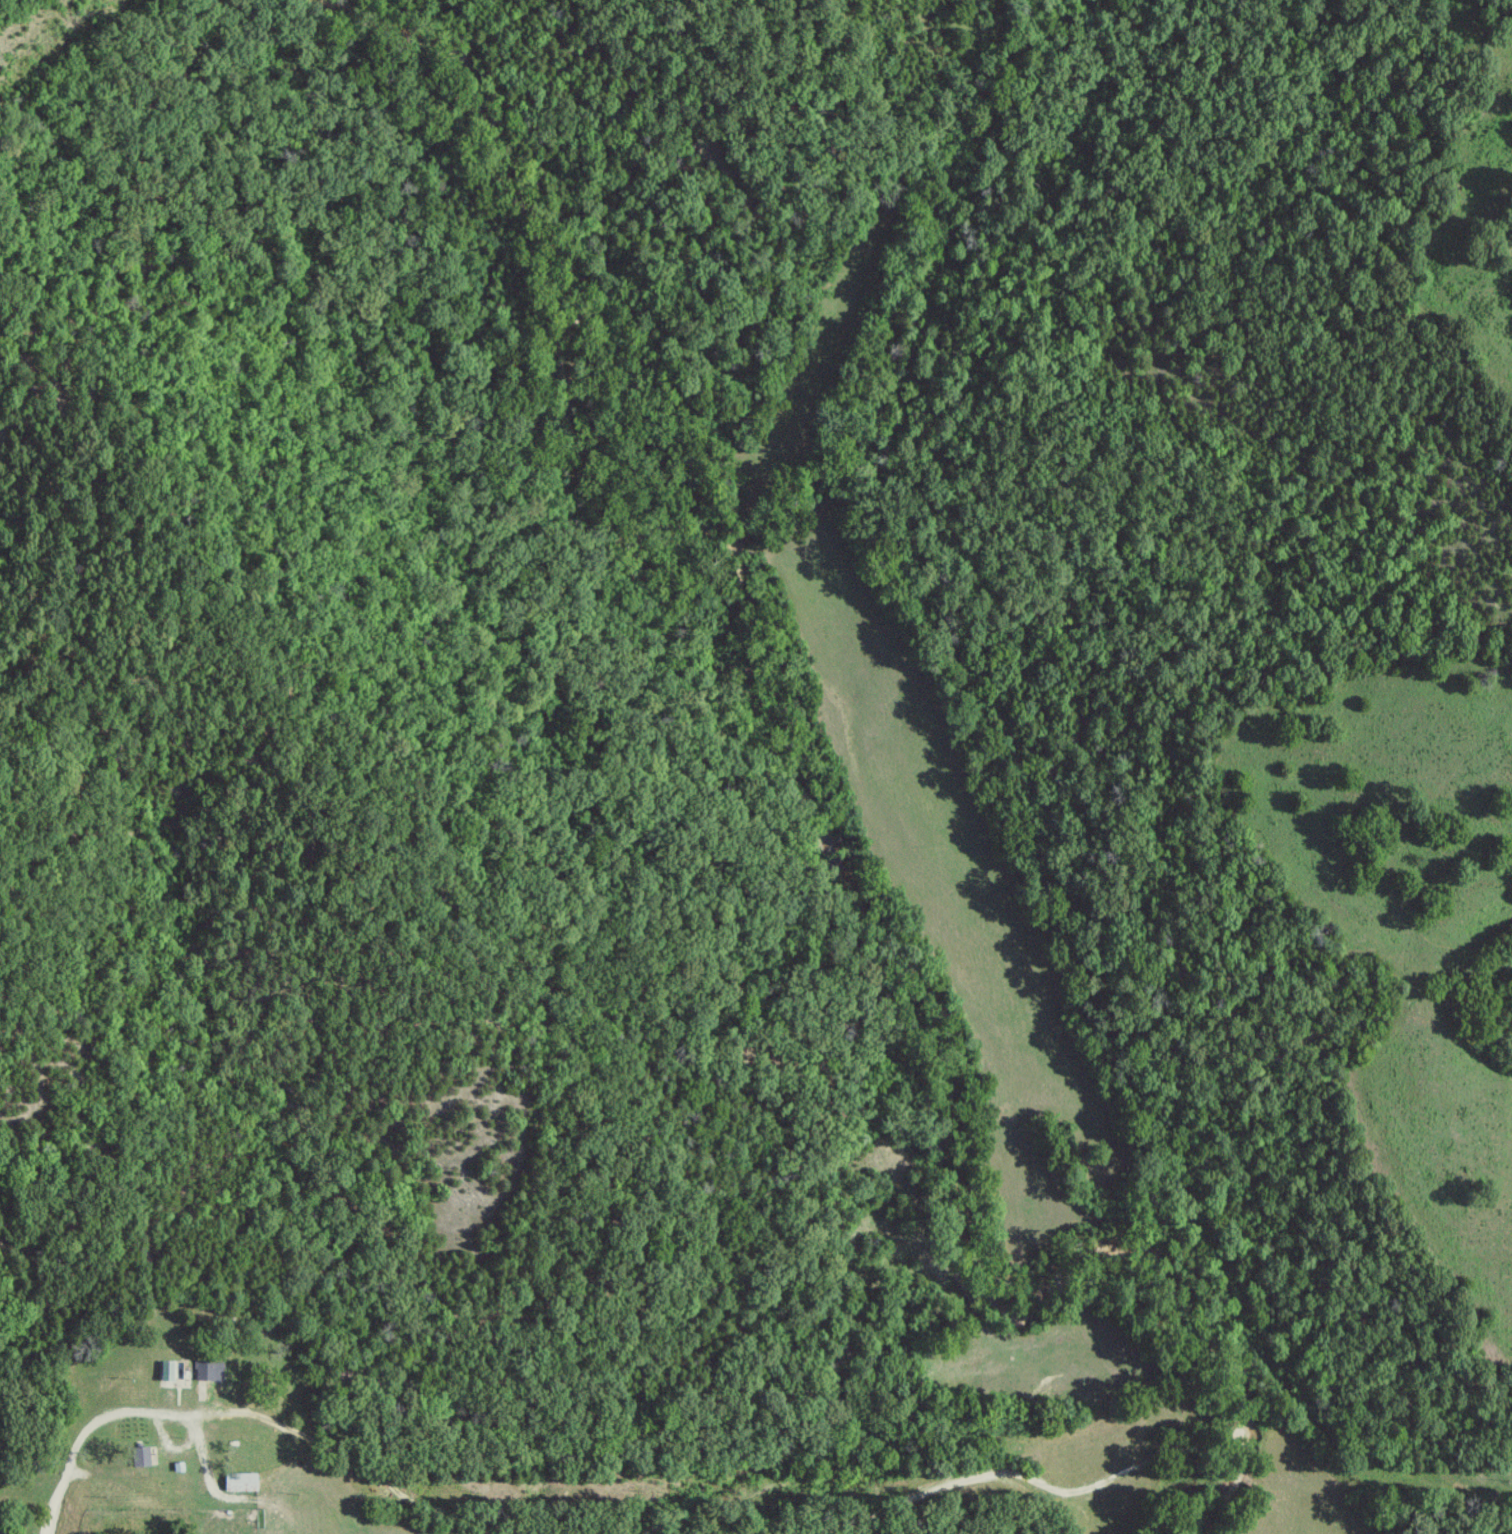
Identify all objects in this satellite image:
building: (172, 1371)
building: (211, 1371)
road: (257, 1413)
building: (144, 1457)
road: (990, 1502)
building: (2, 1527)

